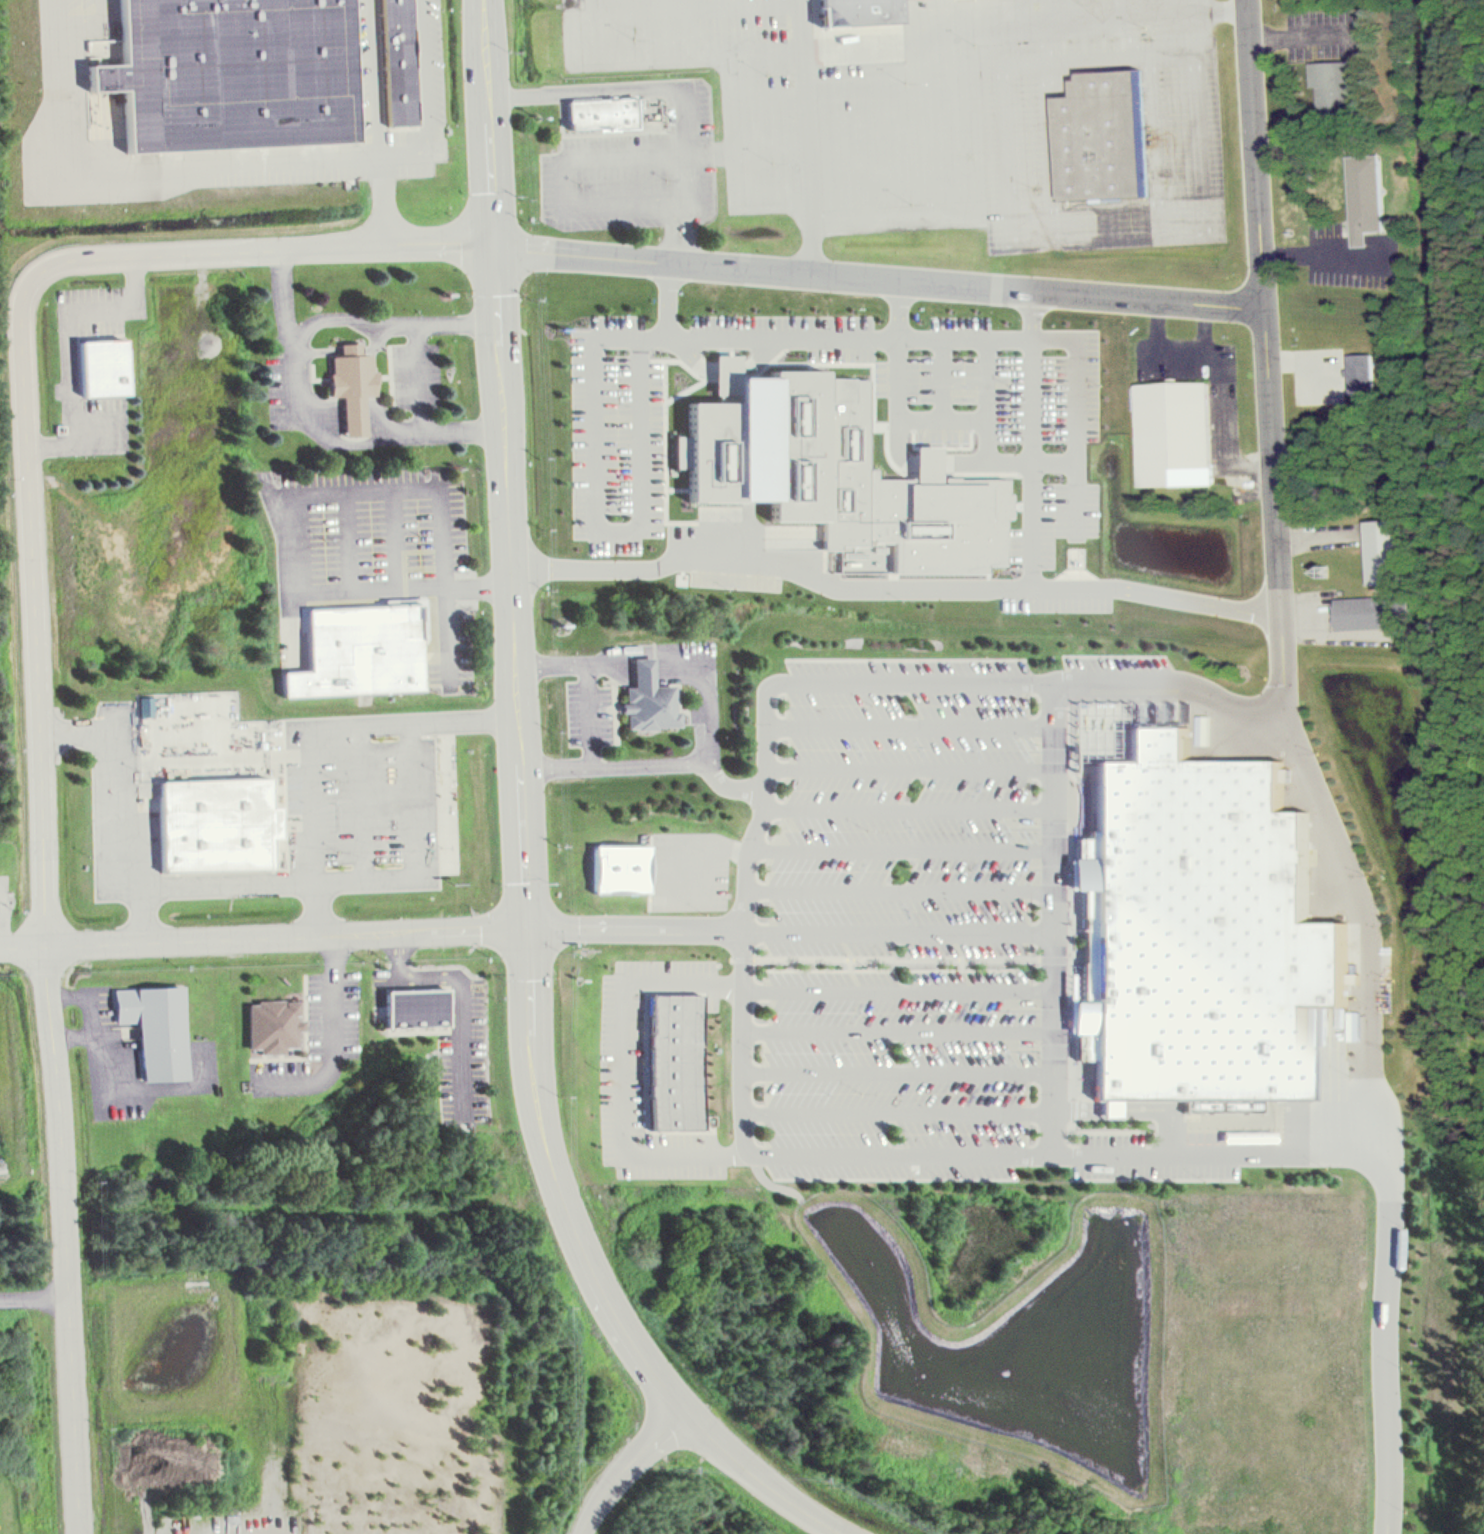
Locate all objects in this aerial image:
building: (853, 5)
road: (1198, 6)
road: (688, 9)
road: (1121, 12)
parking lot: (1087, 13)
road: (992, 16)
road: (89, 17)
road: (803, 24)
road: (1020, 29)
road: (1134, 40)
road: (772, 52)
building: (394, 56)
building: (239, 71)
building: (1334, 89)
road: (769, 90)
road: (589, 91)
building: (602, 112)
parking lot: (809, 113)
road: (377, 121)
road: (1049, 136)
building: (1106, 138)
road: (925, 141)
parking lot: (1022, 146)
road: (884, 147)
road: (1154, 148)
road: (843, 149)
road: (608, 158)
road: (736, 160)
road: (238, 164)
road: (682, 180)
building: (1360, 185)
road: (975, 204)
road: (1104, 206)
road: (1110, 224)
traffic signals: (495, 246)
road: (1035, 246)
road: (665, 260)
road: (665, 296)
road: (389, 309)
road: (1262, 315)
road: (64, 332)
road: (970, 334)
road: (345, 336)
road: (414, 364)
building: (105, 367)
road: (720, 367)
building: (347, 368)
road: (941, 376)
building: (1361, 379)
building: (976, 381)
road: (350, 393)
road: (985, 398)
road: (343, 400)
road: (345, 409)
road: (1072, 410)
road: (941, 418)
road: (317, 426)
building: (1173, 428)
road: (899, 453)
building: (838, 468)
road: (415, 489)
road: (591, 516)
road: (396, 539)
road: (348, 541)
building: (1388, 552)
road: (892, 583)
road: (371, 589)
building: (1368, 612)
road: (652, 640)
building: (364, 646)
building: (643, 688)
road: (582, 703)
road: (517, 724)
road: (910, 725)
road: (313, 729)
road: (647, 752)
road: (911, 767)
road: (361, 799)
road: (909, 811)
building: (219, 822)
park: (17, 841)
road: (903, 847)
building: (616, 863)
road: (668, 863)
parking lot: (688, 866)
road: (234, 882)
road: (48, 883)
road: (902, 890)
parking lot: (901, 913)
road: (147, 914)
road: (1055, 916)
traffic signals: (527, 928)
road: (791, 930)
building: (1203, 934)
road: (263, 938)
road: (748, 968)
road: (459, 987)
road: (901, 991)
building: (414, 998)
road: (75, 1025)
building: (280, 1026)
building: (162, 1029)
road: (901, 1029)
road: (331, 1034)
building: (681, 1058)
road: (624, 1064)
parking lot: (625, 1065)
road: (901, 1071)
road: (1372, 1076)
road: (98, 1078)
road: (901, 1111)
road: (33, 1298)
road: (623, 1466)
road: (755, 1479)
crop: (692, 1499)

